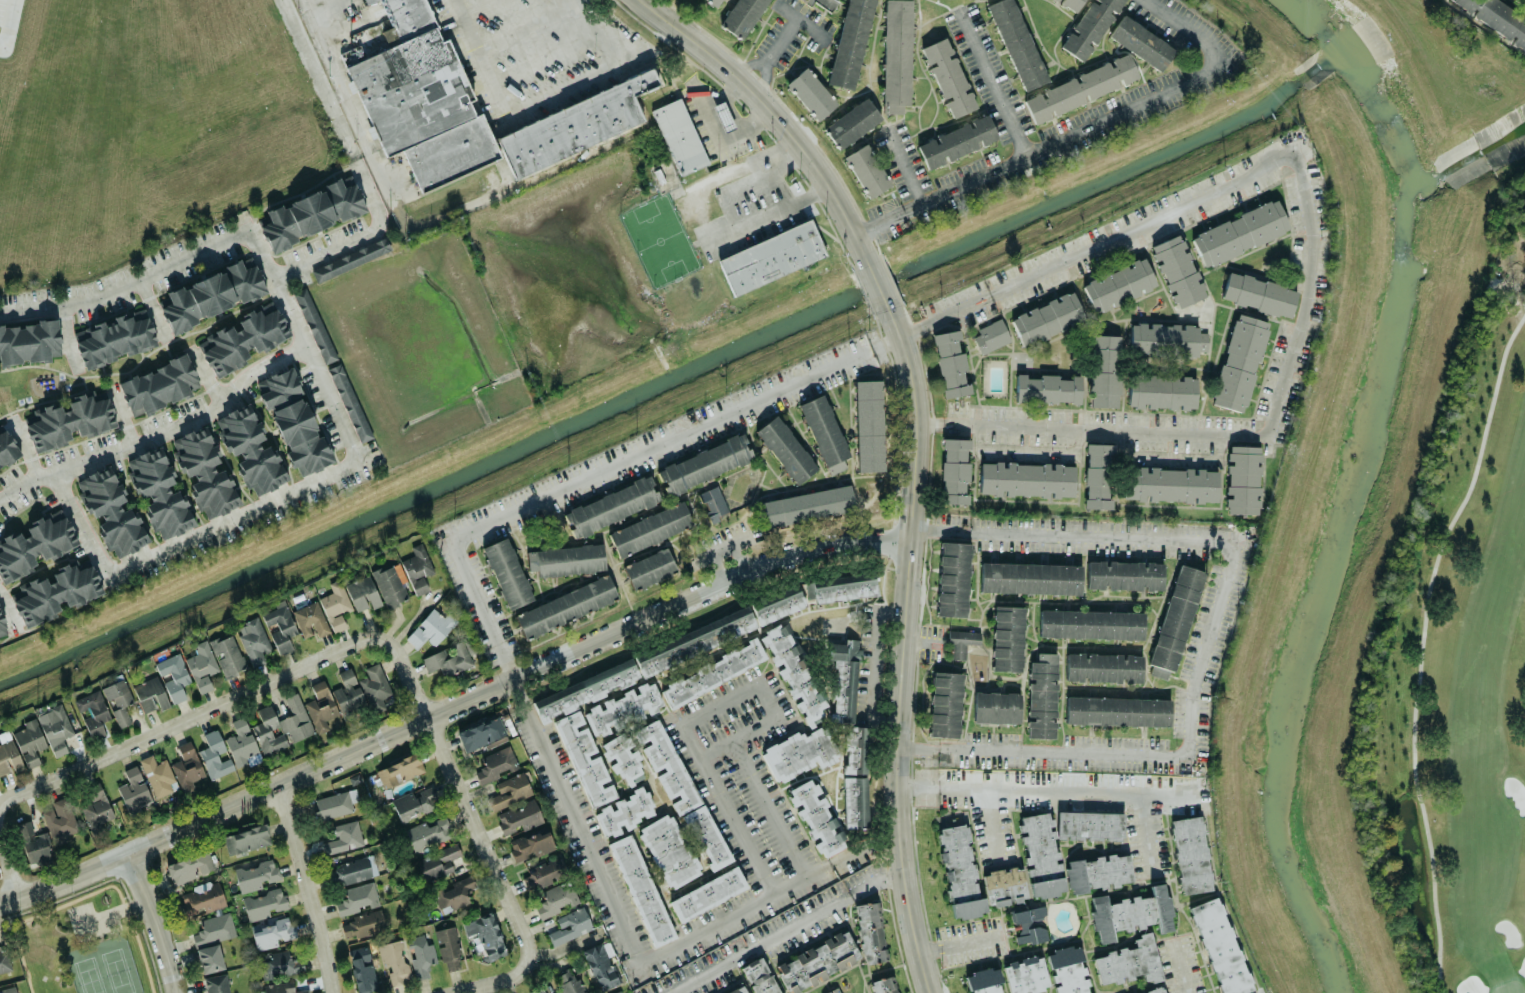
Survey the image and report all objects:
building: (369, 1)
road: (573, 2)
building: (713, 2)
building: (1071, 4)
building: (742, 17)
building: (1503, 21)
road: (802, 22)
road: (9, 24)
building: (1089, 27)
building: (1141, 42)
building: (850, 43)
building: (1017, 43)
road: (773, 53)
building: (897, 55)
road: (481, 57)
road: (612, 67)
building: (948, 77)
road: (319, 78)
road: (993, 82)
building: (1081, 87)
building: (811, 93)
building: (471, 105)
road: (769, 111)
building: (725, 115)
building: (851, 123)
road: (1075, 133)
building: (680, 135)
building: (958, 141)
road: (376, 169)
building: (867, 170)
road: (754, 183)
building: (310, 213)
road: (766, 213)
road: (888, 218)
building: (1239, 232)
road: (359, 237)
road: (1311, 248)
building: (772, 258)
building: (350, 259)
building: (1178, 270)
road: (879, 281)
building: (1119, 285)
building: (1258, 294)
road: (150, 306)
building: (1047, 318)
road: (296, 322)
building: (314, 325)
road: (65, 334)
building: (990, 336)
building: (114, 339)
building: (243, 339)
building: (1166, 340)
building: (29, 341)
building: (1239, 363)
building: (950, 364)
building: (1104, 370)
road: (205, 373)
building: (158, 385)
building: (1047, 388)
building: (1162, 391)
building: (349, 403)
road: (121, 412)
building: (71, 419)
building: (293, 421)
building: (869, 425)
building: (824, 433)
building: (7, 449)
building: (250, 449)
building: (785, 449)
building: (705, 463)
road: (608, 468)
building: (954, 470)
building: (204, 472)
building: (1098, 475)
building: (1026, 479)
building: (1242, 479)
building: (1170, 484)
river: (1340, 485)
building: (159, 493)
building: (712, 502)
building: (807, 505)
building: (611, 506)
building: (111, 511)
road: (238, 513)
building: (649, 528)
building: (34, 545)
road: (722, 546)
road: (741, 556)
building: (566, 560)
road: (717, 567)
building: (417, 568)
building: (649, 568)
building: (507, 573)
building: (1124, 575)
building: (1030, 578)
building: (953, 579)
building: (391, 584)
building: (841, 587)
building: (55, 592)
building: (362, 593)
road: (7, 599)
building: (777, 604)
building: (335, 605)
building: (565, 606)
building: (311, 619)
building: (1175, 621)
building: (1091, 624)
building: (280, 626)
building: (2, 628)
building: (431, 628)
road: (1208, 632)
building: (1008, 638)
building: (253, 640)
building: (698, 640)
road: (925, 642)
building: (961, 642)
road: (905, 651)
building: (228, 655)
building: (451, 658)
park: (1455, 661)
building: (201, 666)
building: (1104, 667)
building: (712, 673)
building: (173, 675)
building: (375, 683)
road: (744, 687)
building: (800, 687)
building: (585, 689)
building: (150, 694)
building: (348, 695)
building: (1042, 696)
building: (846, 699)
building: (118, 701)
building: (945, 704)
building: (320, 706)
road: (451, 707)
building: (996, 707)
building: (623, 708)
building: (1118, 711)
building: (92, 712)
building: (295, 719)
road: (184, 720)
building: (54, 728)
building: (267, 730)
building: (481, 734)
building: (242, 744)
building: (20, 747)
road: (715, 749)
building: (214, 755)
building: (584, 758)
building: (623, 758)
building: (495, 764)
building: (666, 766)
building: (187, 767)
building: (399, 770)
building: (158, 775)
building: (511, 789)
building: (133, 790)
road: (1048, 792)
road: (462, 795)
building: (415, 802)
building: (855, 802)
building: (334, 803)
building: (95, 810)
building: (623, 812)
building: (519, 816)
building: (816, 817)
building: (60, 821)
road: (992, 823)
building: (428, 832)
road: (1147, 832)
building: (707, 836)
building: (344, 837)
building: (247, 839)
building: (531, 845)
building: (37, 849)
building: (669, 851)
building: (1190, 854)
building: (437, 862)
building: (1033, 862)
road: (11, 864)
building: (190, 867)
building: (350, 871)
building: (543, 874)
building: (255, 875)
road: (308, 890)
building: (641, 890)
building: (707, 893)
building: (455, 894)
building: (202, 898)
building: (357, 898)
building: (555, 898)
building: (263, 904)
building: (1131, 912)
road: (157, 923)
building: (362, 924)
building: (1029, 924)
building: (570, 925)
building: (214, 928)
road: (788, 929)
building: (272, 932)
building: (870, 933)
building: (485, 935)
road: (960, 943)
building: (1220, 946)
building: (448, 948)
building: (420, 954)
road: (635, 955)
building: (209, 958)
building: (4, 959)
building: (394, 960)
building: (817, 962)
building: (1129, 962)
building: (278, 964)
building: (600, 964)
road: (1179, 968)
building: (362, 969)
building: (1047, 972)
building: (760, 976)
building: (983, 981)
building: (569, 982)
building: (216, 983)
road: (497, 983)
building: (882, 985)
building: (282, 988)
building: (8, 990)
building: (538, 990)
building: (740, 990)
building: (1155, 990)
building: (833, 991)

